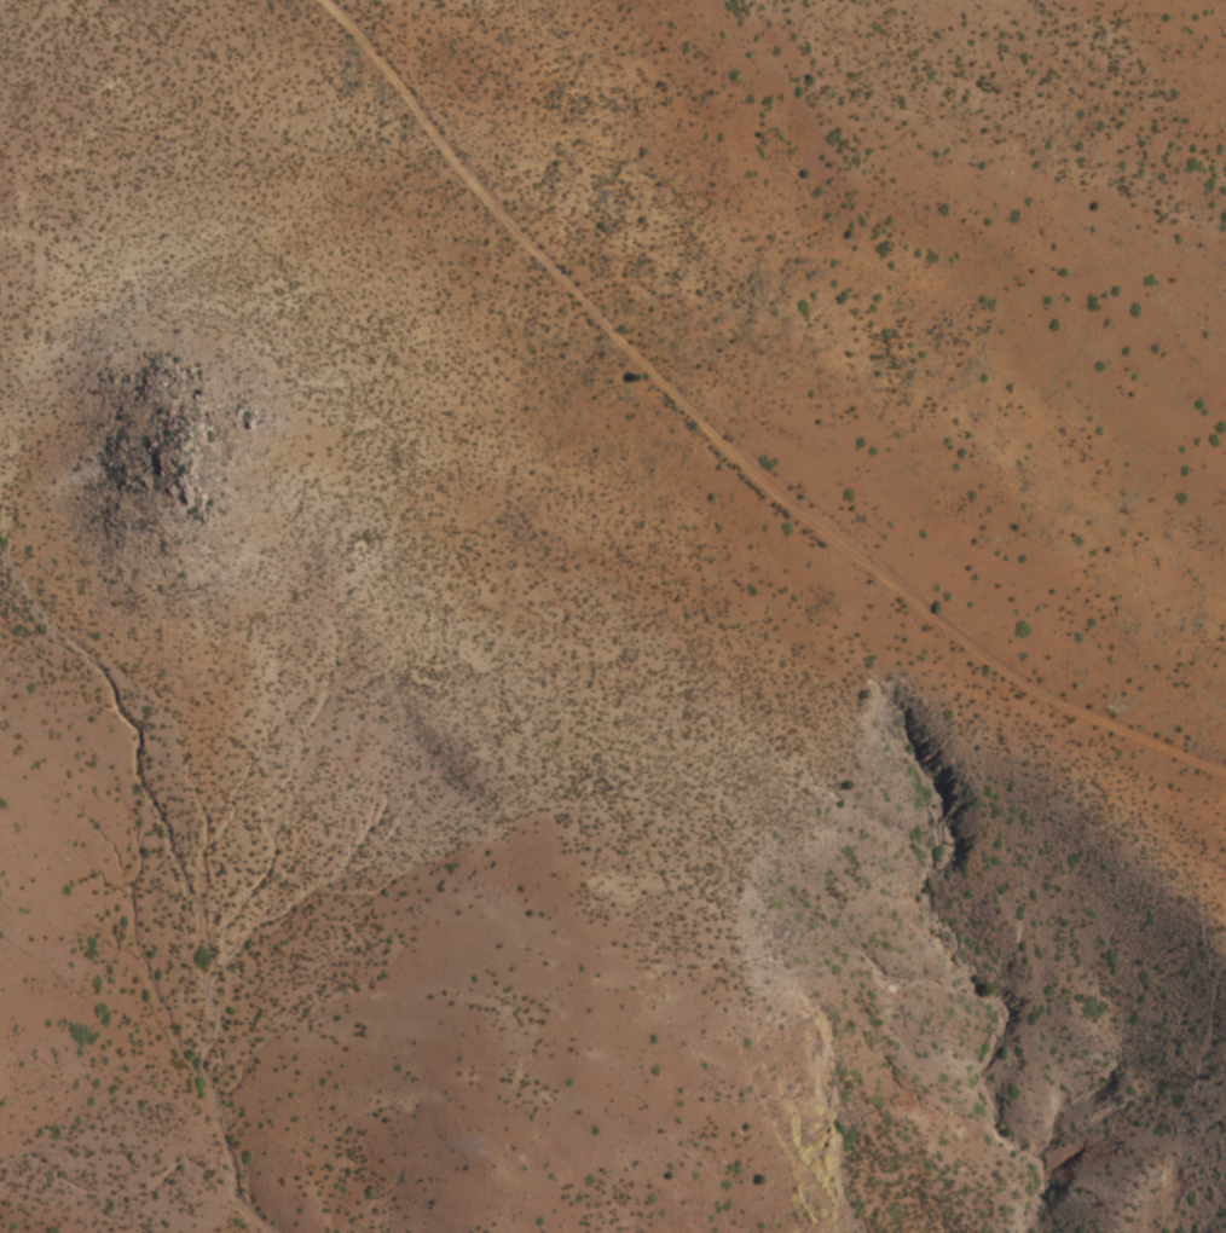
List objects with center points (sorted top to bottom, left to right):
road: (722, 447)

